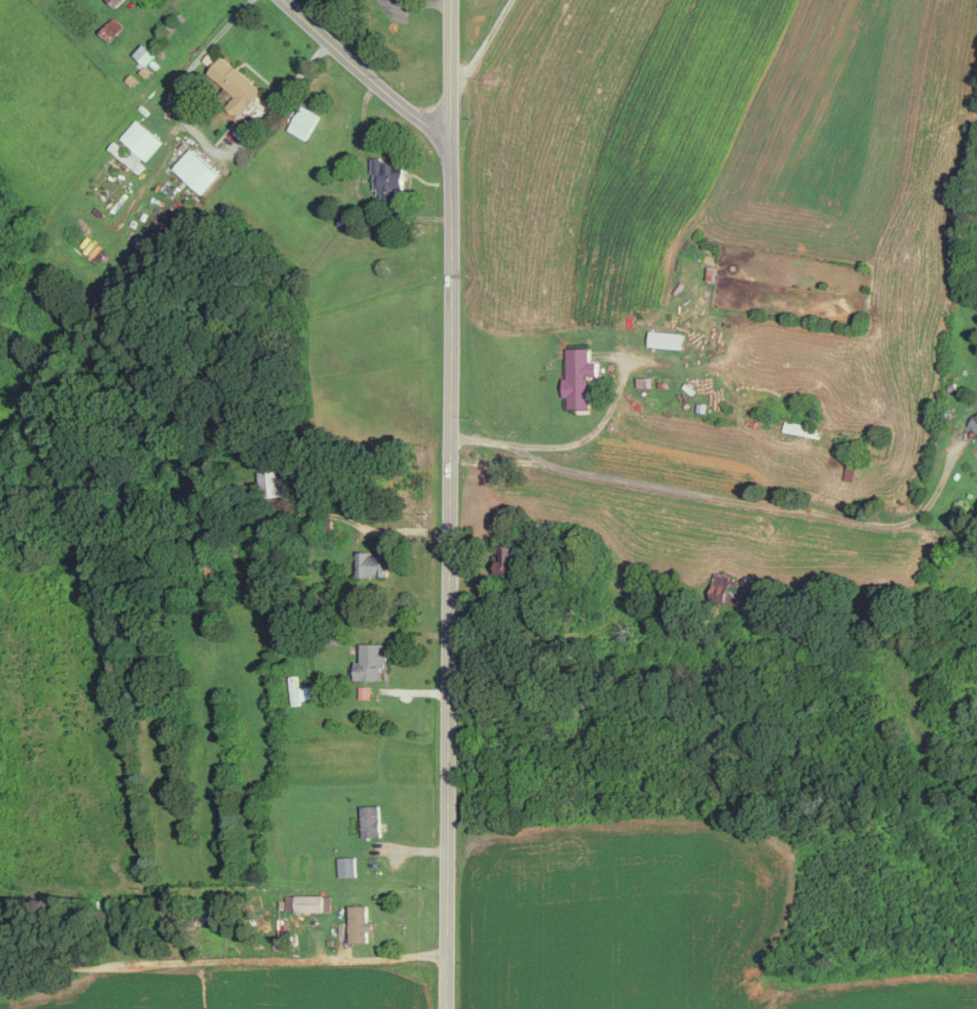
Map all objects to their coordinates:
building: (117, 1)
building: (113, 28)
road: (486, 43)
building: (147, 69)
road: (364, 70)
building: (238, 83)
building: (305, 121)
road: (205, 142)
building: (138, 144)
building: (199, 169)
building: (391, 177)
building: (669, 338)
building: (581, 376)
building: (647, 380)
building: (975, 421)
building: (803, 427)
road: (563, 444)
road: (530, 453)
building: (276, 481)
road: (723, 498)
road: (450, 504)
road: (373, 530)
building: (512, 559)
building: (373, 563)
building: (735, 590)
building: (373, 661)
building: (366, 691)
building: (372, 820)
building: (348, 865)
building: (310, 902)
building: (361, 923)
road: (222, 960)

